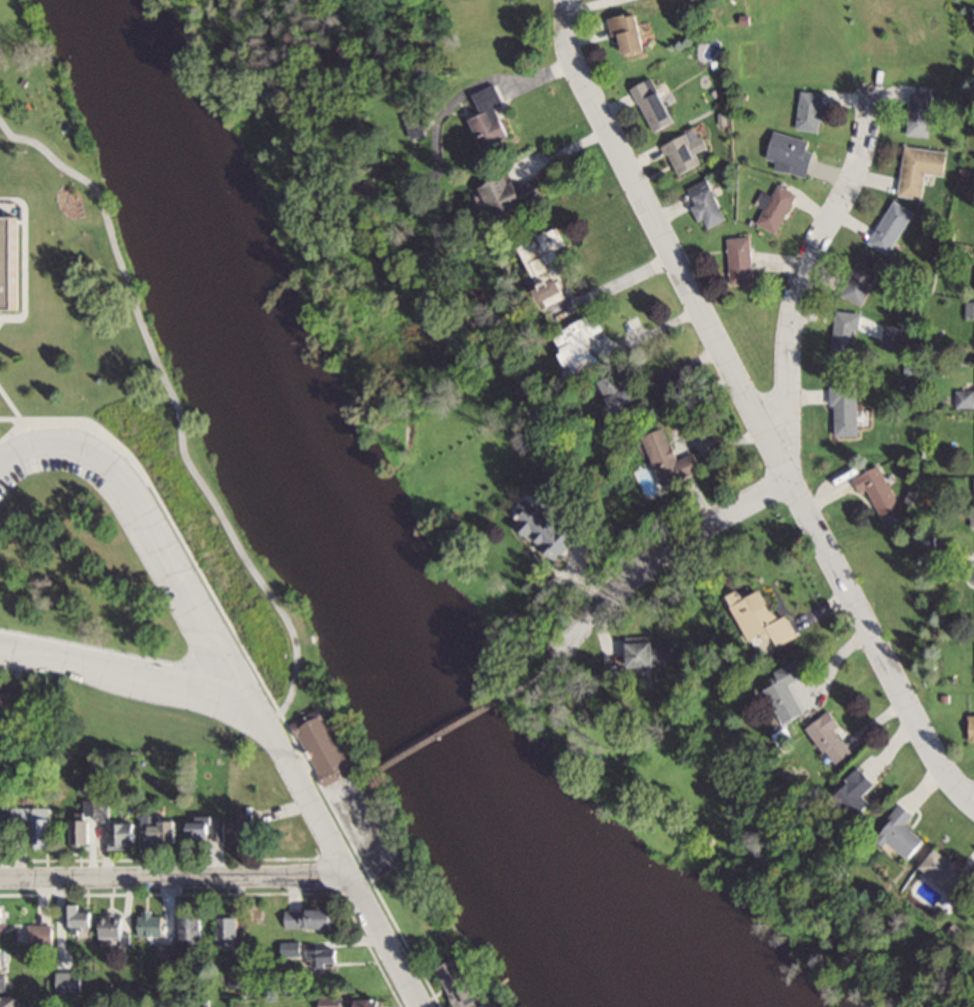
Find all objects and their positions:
building: (630, 31)
park: (20, 35)
building: (654, 104)
building: (811, 110)
building: (918, 113)
building: (494, 117)
building: (417, 125)
building: (791, 153)
building: (682, 154)
building: (919, 168)
building: (518, 194)
building: (707, 202)
building: (776, 207)
building: (890, 226)
building: (743, 260)
building: (15, 262)
building: (547, 269)
road: (803, 274)
building: (862, 277)
building: (969, 308)
road: (651, 330)
building: (844, 333)
building: (585, 343)
building: (626, 392)
road: (752, 408)
road: (178, 410)
building: (844, 410)
building: (672, 455)
building: (877, 489)
building: (973, 500)
road: (154, 525)
building: (543, 526)
river: (319, 528)
road: (662, 553)
building: (972, 574)
building: (765, 617)
building: (651, 651)
road: (124, 672)
road: (532, 679)
building: (792, 691)
building: (13, 694)
building: (971, 728)
road: (439, 734)
building: (833, 737)
building: (2, 739)
building: (322, 745)
road: (342, 788)
building: (858, 791)
park: (363, 814)
building: (91, 821)
building: (37, 824)
building: (244, 827)
building: (3, 828)
building: (162, 829)
building: (205, 829)
building: (904, 832)
building: (124, 836)
road: (336, 850)
building: (952, 870)
road: (175, 876)
building: (79, 916)
building: (311, 917)
building: (3, 918)
building: (152, 923)
building: (113, 924)
building: (193, 928)
building: (230, 928)
building: (39, 934)
building: (290, 948)
building: (324, 955)
building: (2, 956)
building: (236, 972)
building: (460, 983)
building: (8, 996)
building: (353, 1001)

